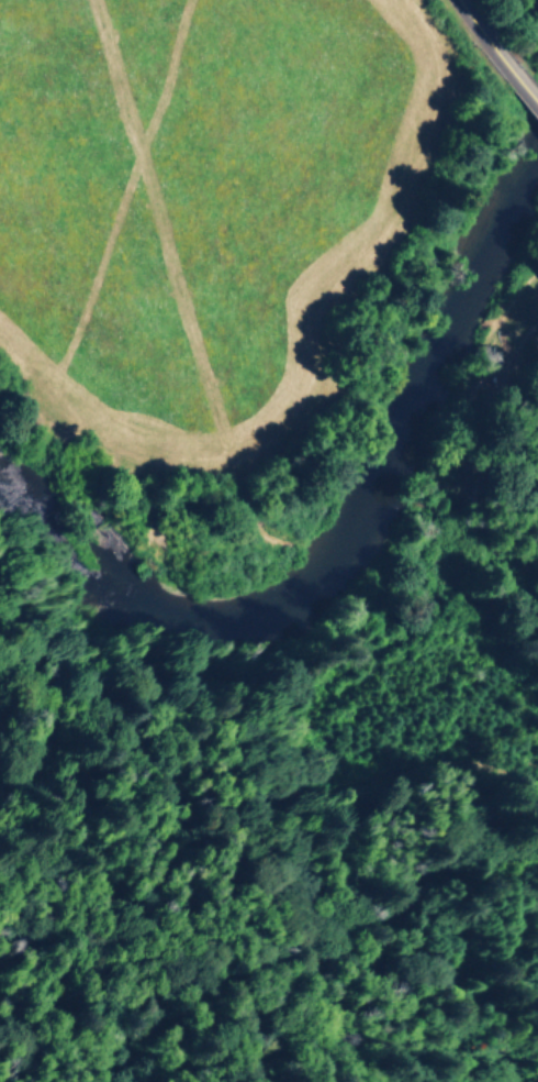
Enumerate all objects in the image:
road: (496, 54)
river: (346, 521)

